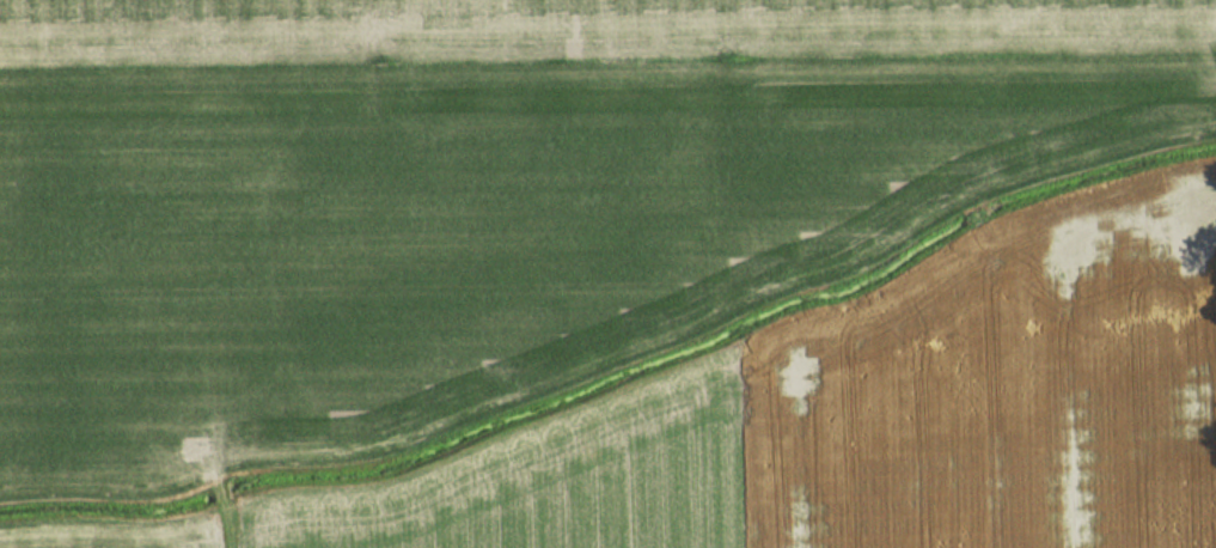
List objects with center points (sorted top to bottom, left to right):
crop: (485, 194)
crop: (900, 428)
crop: (123, 542)

